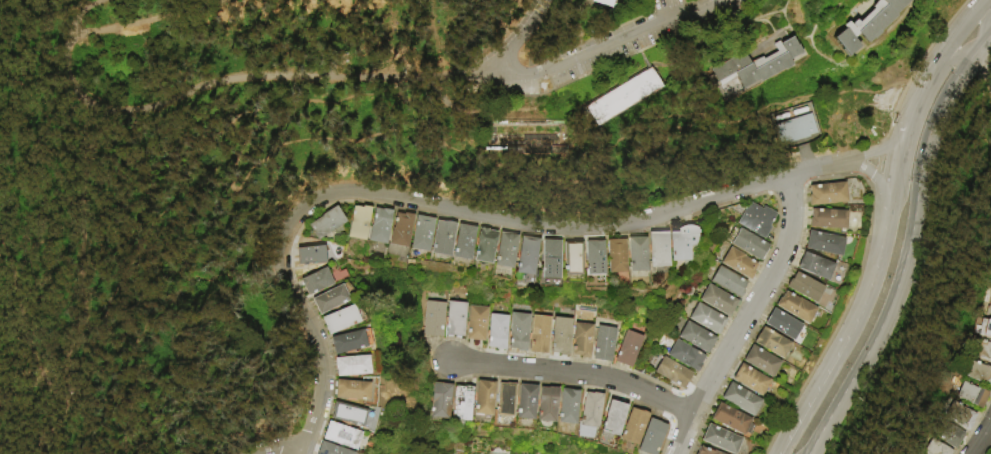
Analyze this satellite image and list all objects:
building: (606, 3)
road: (62, 12)
road: (976, 12)
road: (80, 14)
road: (136, 19)
building: (870, 24)
road: (974, 32)
road: (986, 35)
road: (955, 37)
road: (606, 50)
road: (987, 56)
road: (937, 64)
road: (478, 65)
road: (915, 66)
building: (755, 68)
road: (199, 85)
building: (625, 95)
road: (351, 99)
building: (801, 111)
building: (783, 117)
road: (910, 117)
building: (797, 129)
park: (357, 164)
road: (876, 164)
road: (556, 170)
road: (188, 175)
building: (826, 196)
road: (472, 210)
building: (827, 220)
building: (755, 221)
building: (358, 224)
building: (323, 226)
road: (39, 227)
building: (379, 227)
building: (400, 231)
building: (421, 235)
road: (79, 237)
building: (441, 239)
road: (907, 243)
building: (462, 244)
building: (823, 245)
building: (749, 246)
building: (483, 247)
building: (678, 249)
building: (504, 252)
building: (656, 252)
road: (36, 256)
building: (635, 257)
building: (614, 259)
building: (307, 260)
building: (593, 260)
building: (525, 261)
building: (548, 261)
building: (572, 263)
building: (739, 265)
building: (814, 268)
building: (990, 279)
building: (313, 283)
building: (728, 283)
building: (804, 288)
building: (325, 296)
building: (717, 302)
building: (987, 305)
building: (794, 306)
road: (22, 310)
road: (860, 313)
building: (336, 315)
road: (746, 316)
building: (434, 319)
building: (455, 319)
building: (707, 320)
building: (476, 324)
building: (781, 325)
road: (835, 325)
building: (982, 327)
road: (96, 330)
building: (518, 331)
building: (497, 332)
building: (539, 334)
building: (560, 336)
building: (347, 337)
building: (695, 338)
building: (581, 339)
building: (771, 343)
building: (603, 344)
road: (205, 345)
building: (981, 348)
building: (627, 349)
building: (685, 357)
building: (760, 361)
building: (347, 362)
building: (977, 371)
road: (575, 373)
building: (672, 374)
building: (749, 379)
road: (73, 384)
building: (347, 386)
building: (970, 392)
building: (481, 397)
building: (503, 399)
building: (740, 399)
building: (439, 400)
building: (524, 401)
building: (460, 402)
building: (545, 404)
building: (567, 406)
building: (590, 409)
building: (343, 411)
building: (957, 413)
building: (612, 417)
building: (730, 419)
building: (633, 426)
building: (336, 432)
building: (947, 432)
building: (651, 437)
building: (720, 439)
road: (981, 439)
road: (275, 444)
road: (812, 447)
building: (934, 447)
building: (330, 448)
building: (704, 451)
building: (990, 452)

